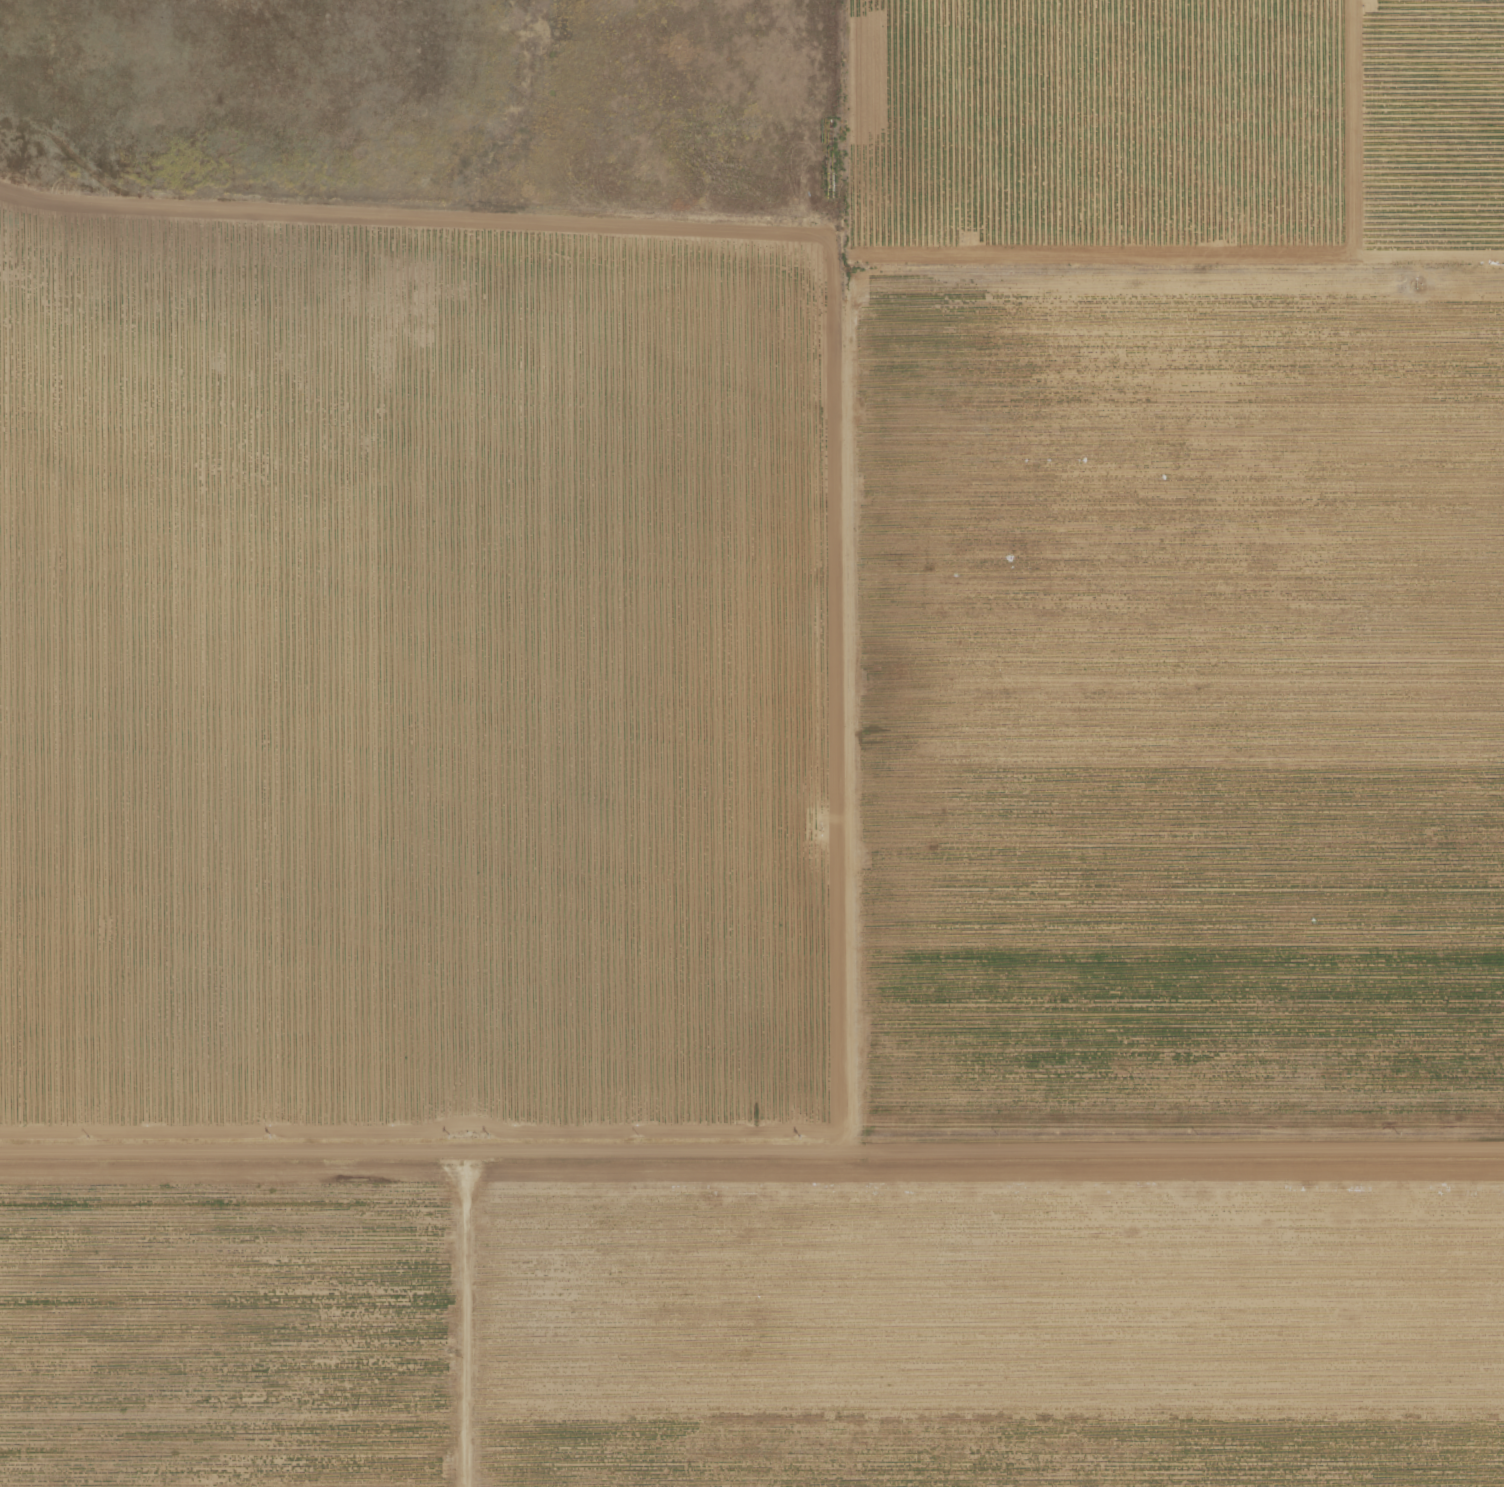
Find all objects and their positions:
road: (1343, 136)
road: (852, 407)
road: (752, 1155)

